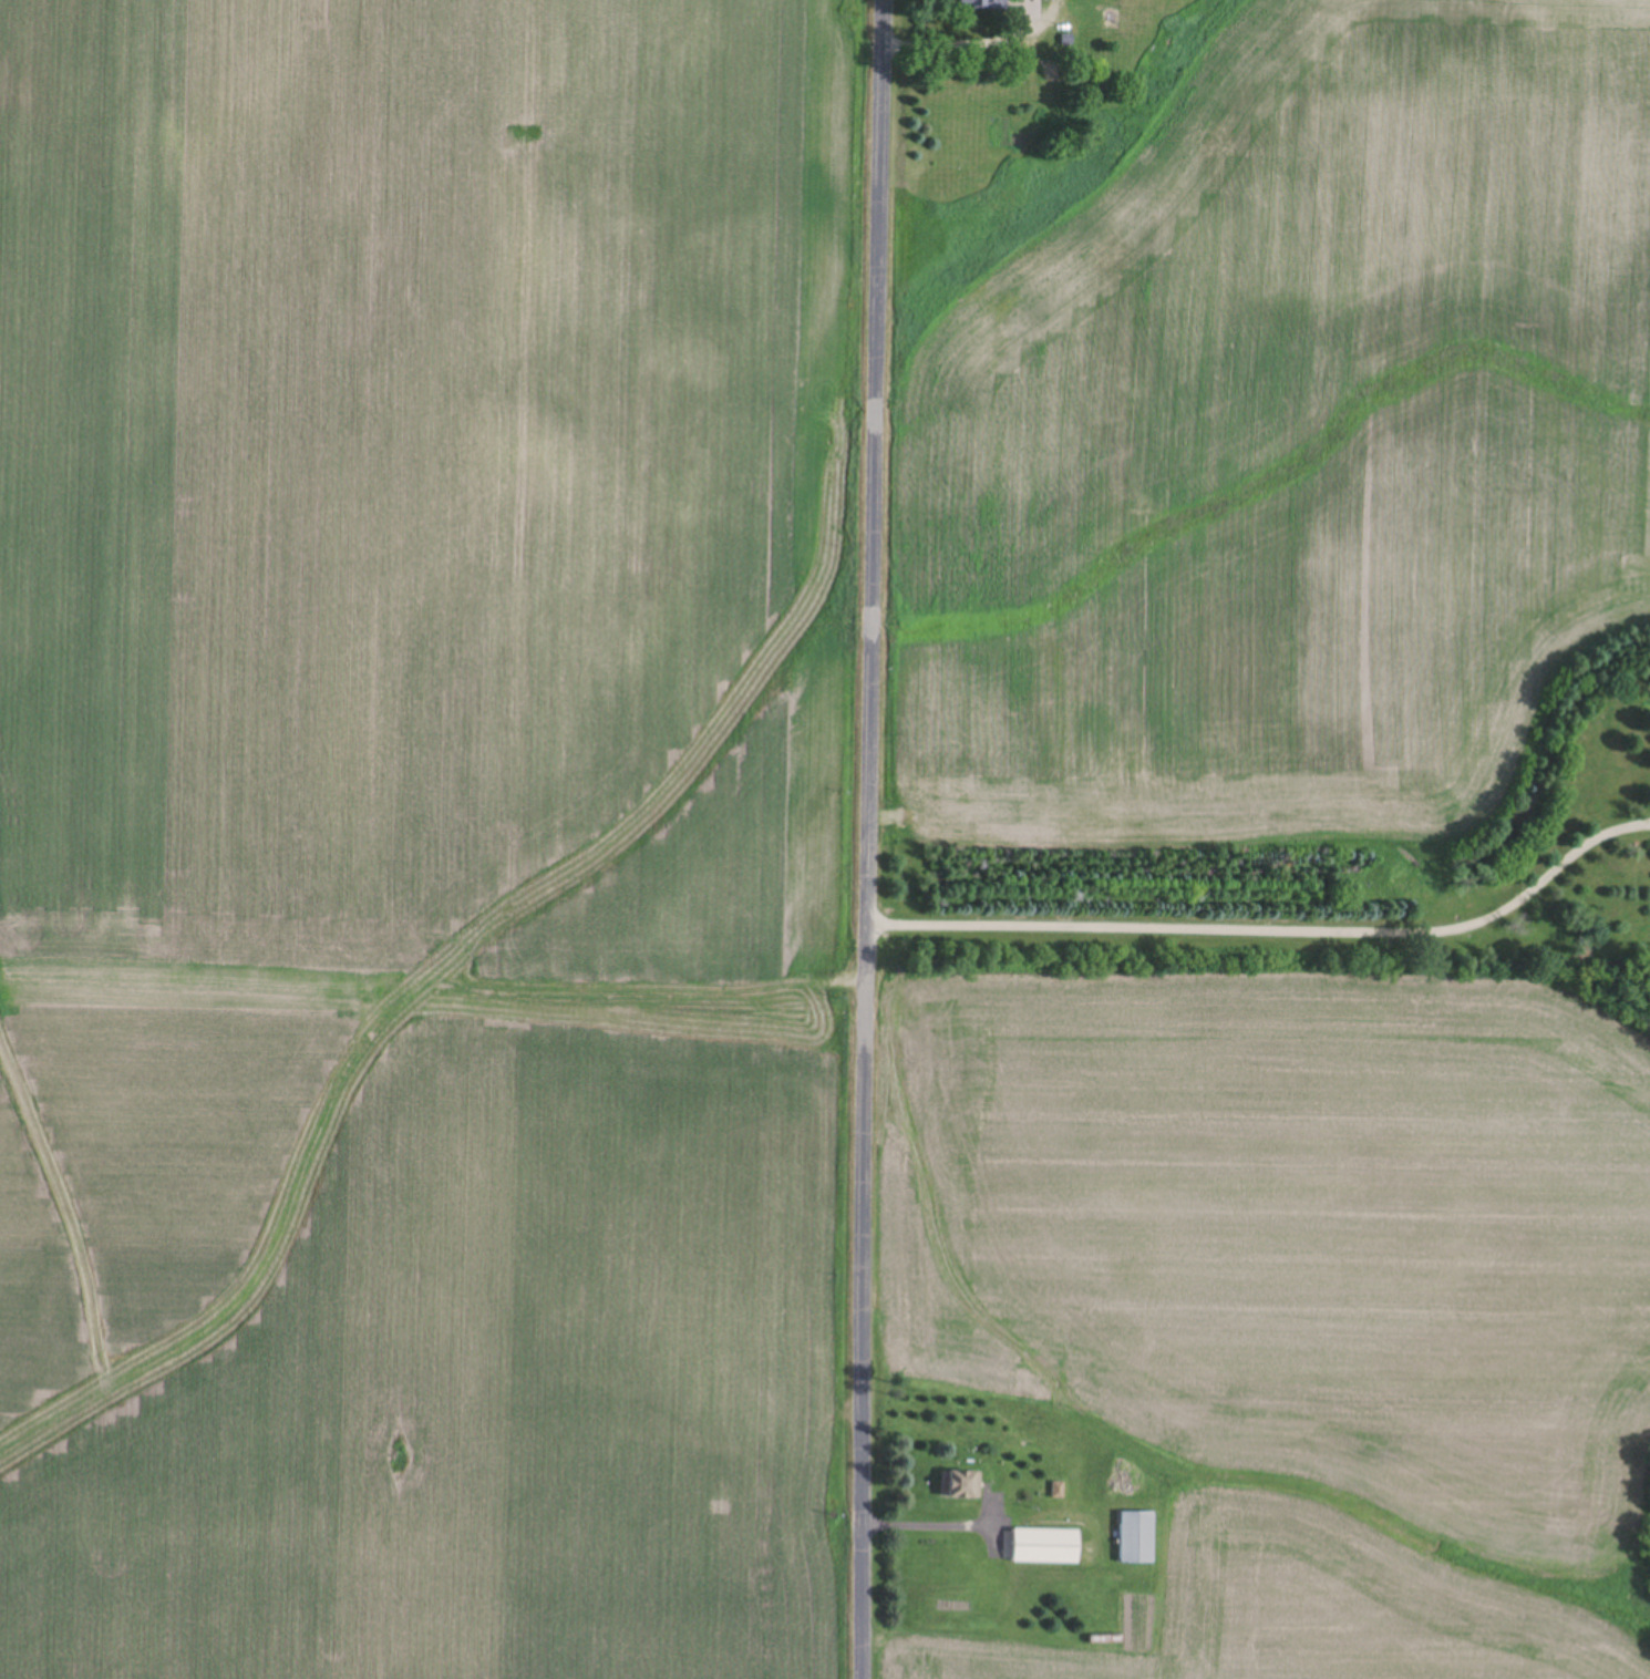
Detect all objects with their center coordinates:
building: (982, 4)
building: (1105, 16)
building: (1082, 52)
building: (1052, 73)
road: (869, 838)
building: (966, 1486)
building: (1137, 1539)
building: (1046, 1548)

